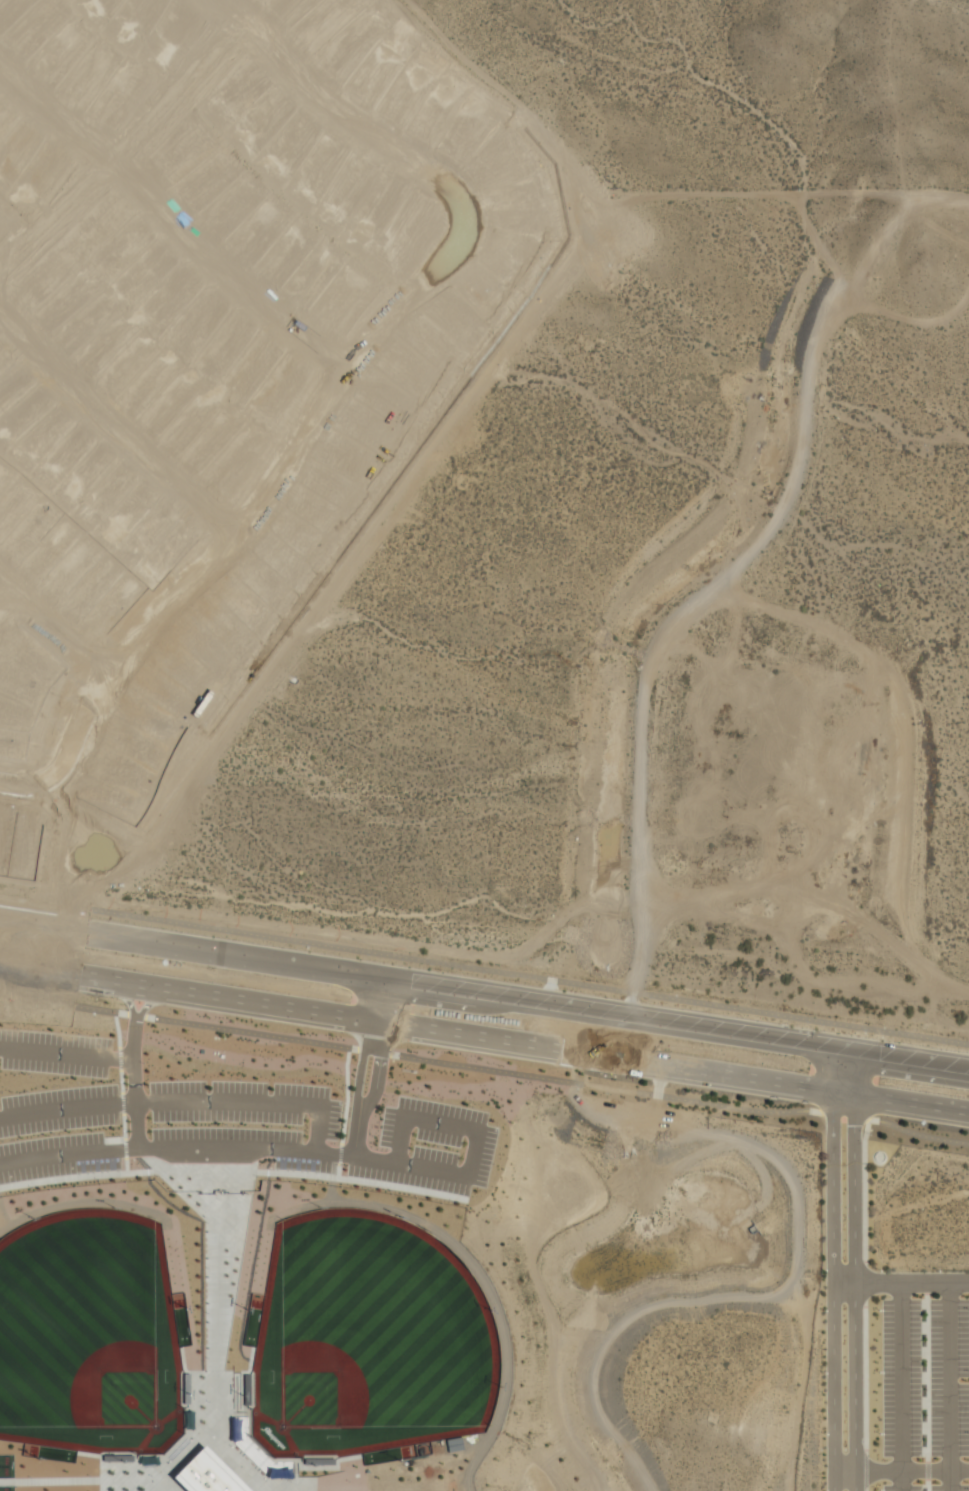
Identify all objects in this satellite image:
road: (342, 114)
road: (125, 150)
road: (169, 215)
road: (113, 425)
road: (255, 500)
road: (11, 607)
road: (53, 620)
road: (661, 633)
road: (24, 785)
road: (530, 977)
road: (440, 989)
road: (129, 1000)
road: (150, 1002)
road: (433, 1030)
road: (364, 1040)
road: (382, 1044)
road: (67, 1049)
road: (925, 1060)
road: (135, 1083)
road: (252, 1101)
parking lot: (55, 1102)
road: (68, 1105)
road: (920, 1108)
parking lot: (244, 1111)
road: (775, 1112)
road: (358, 1130)
parking lot: (412, 1145)
road: (70, 1154)
road: (395, 1165)
road: (840, 1268)
road: (860, 1270)
road: (905, 1282)
road: (218, 1286)
park: (92, 1324)
park: (370, 1334)
stadium: (278, 1337)
road: (903, 1386)
road: (950, 1386)
parking lot: (920, 1390)
road: (206, 1425)
road: (134, 1471)
road: (901, 1471)
building: (206, 1474)
road: (289, 1487)

